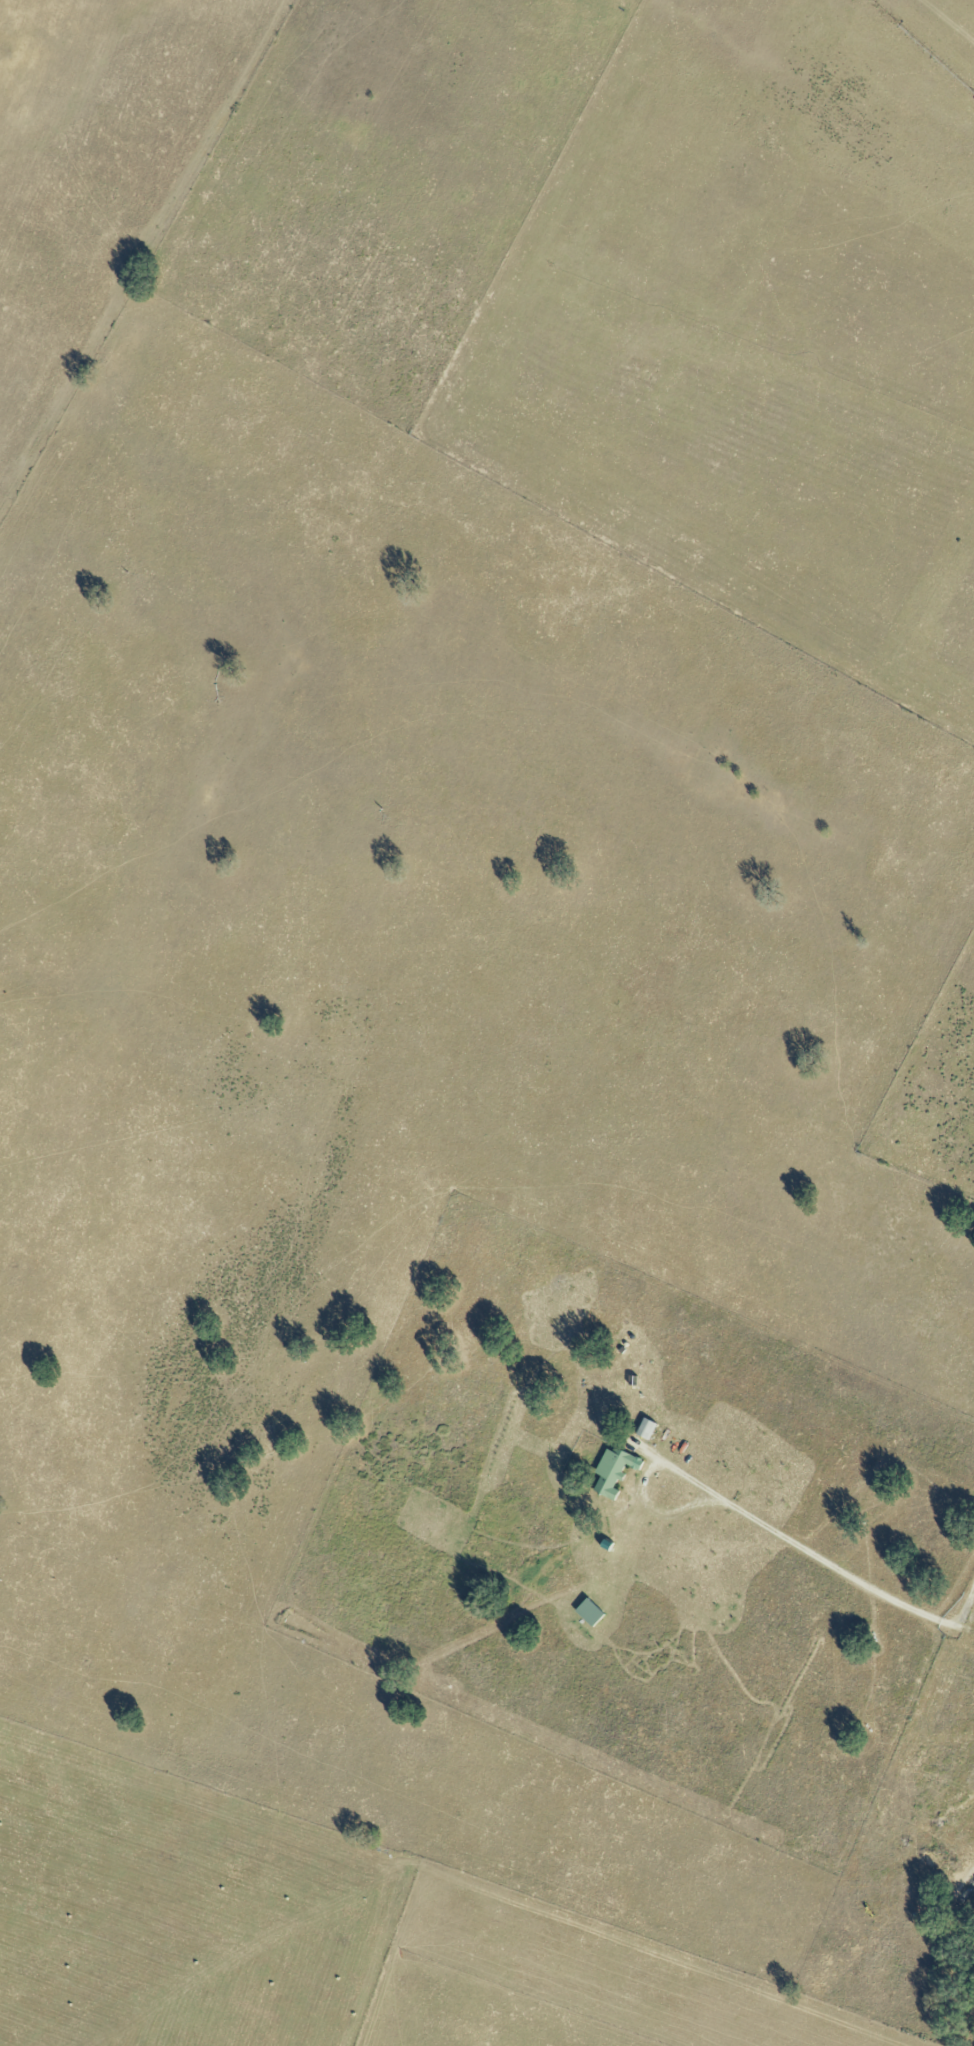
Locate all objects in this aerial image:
building: (646, 1428)
building: (613, 1471)
road: (815, 1558)
road: (965, 1609)
road: (963, 1631)

